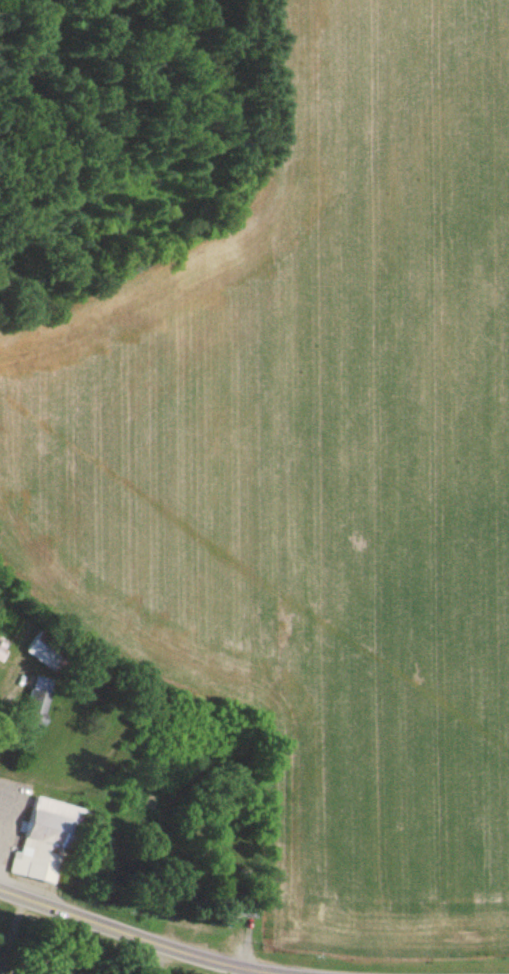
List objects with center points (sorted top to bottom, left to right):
building: (46, 654)
building: (1, 655)
building: (35, 706)
building: (46, 842)
road: (123, 932)

